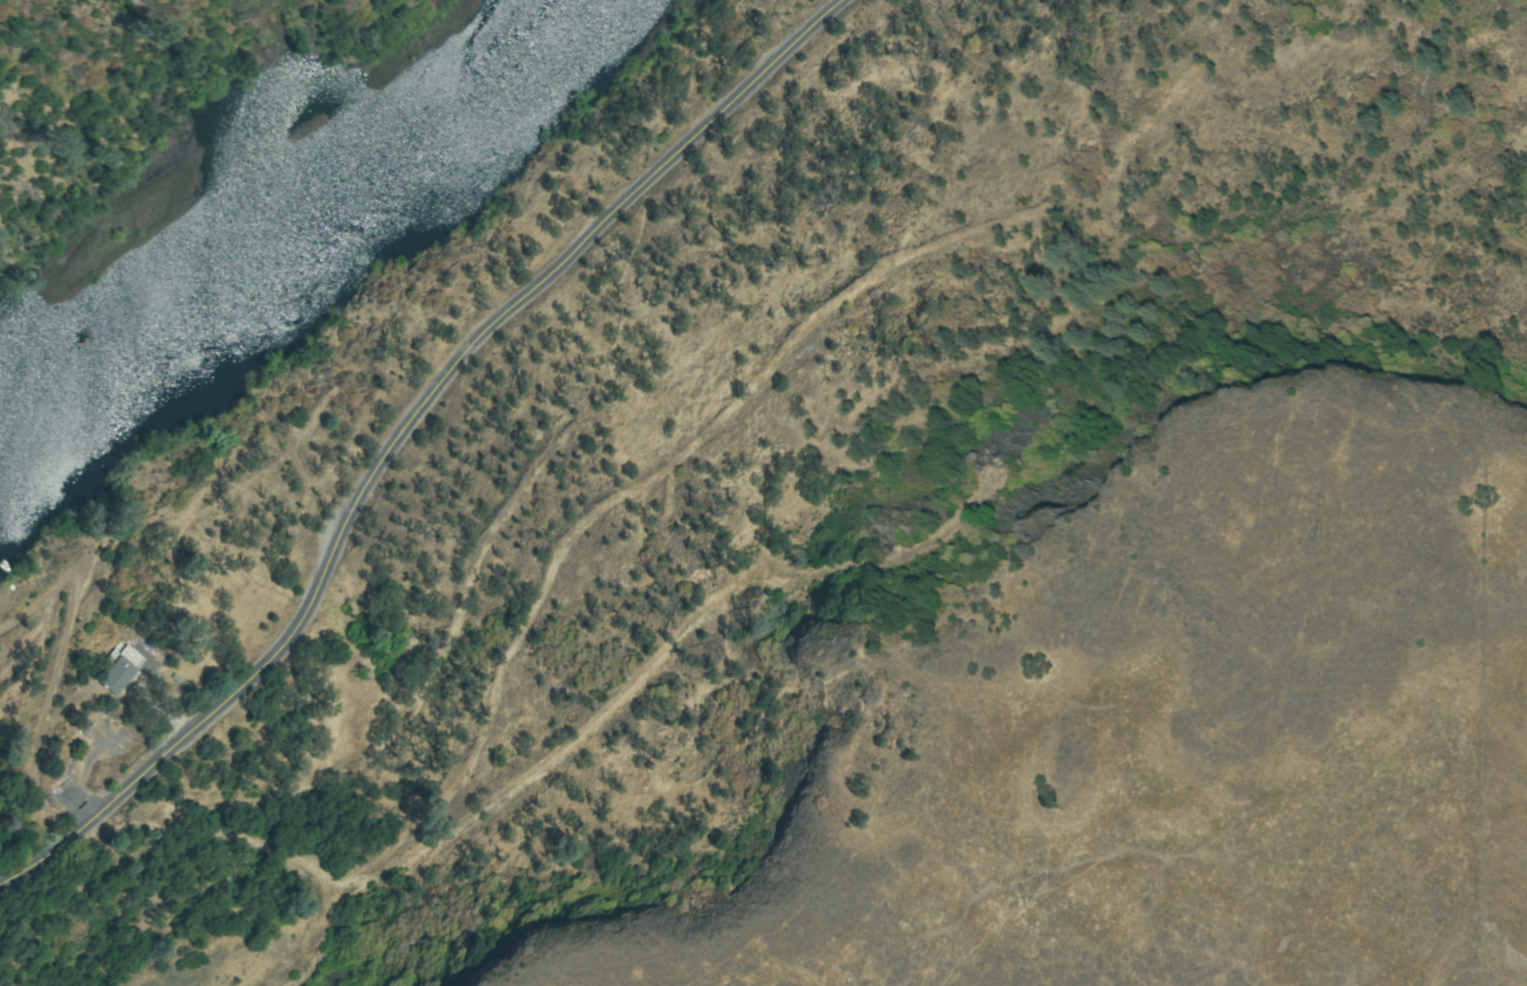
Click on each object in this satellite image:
road: (410, 429)
building: (117, 669)

